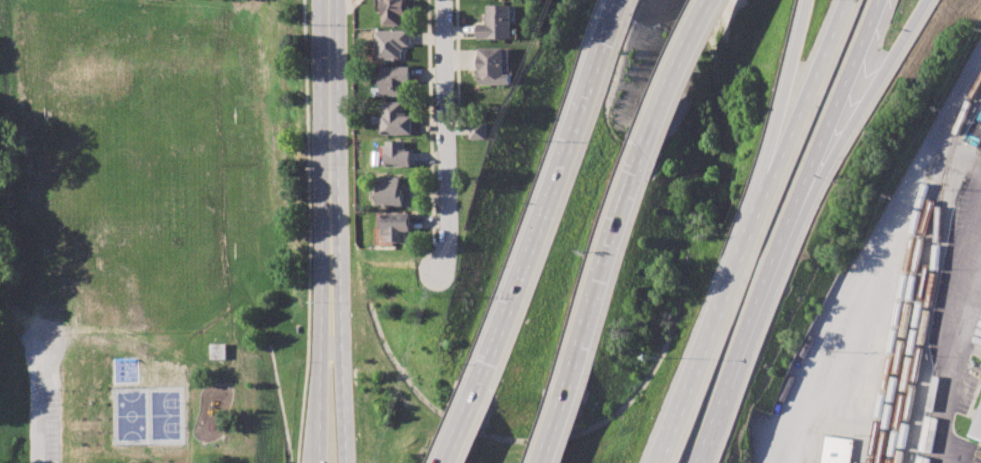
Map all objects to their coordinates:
road: (348, 6)
road: (353, 6)
building: (394, 11)
building: (496, 23)
building: (392, 43)
road: (458, 63)
building: (493, 67)
building: (394, 79)
road: (792, 89)
road: (812, 89)
road: (842, 101)
road: (865, 101)
building: (396, 119)
road: (431, 121)
building: (478, 126)
road: (457, 127)
road: (445, 136)
building: (398, 154)
building: (394, 192)
road: (543, 202)
road: (613, 204)
road: (894, 208)
park: (161, 222)
building: (397, 225)
road: (319, 230)
road: (308, 231)
road: (341, 231)
road: (440, 241)
railway: (915, 266)
railway: (920, 298)
railway: (896, 319)
road: (717, 321)
railway: (924, 325)
road: (955, 325)
road: (749, 332)
road: (41, 404)
park: (148, 415)
road: (789, 415)
building: (978, 428)
road: (458, 434)
building: (980, 439)
road: (546, 442)
building: (836, 449)
road: (317, 462)
road: (318, 462)

